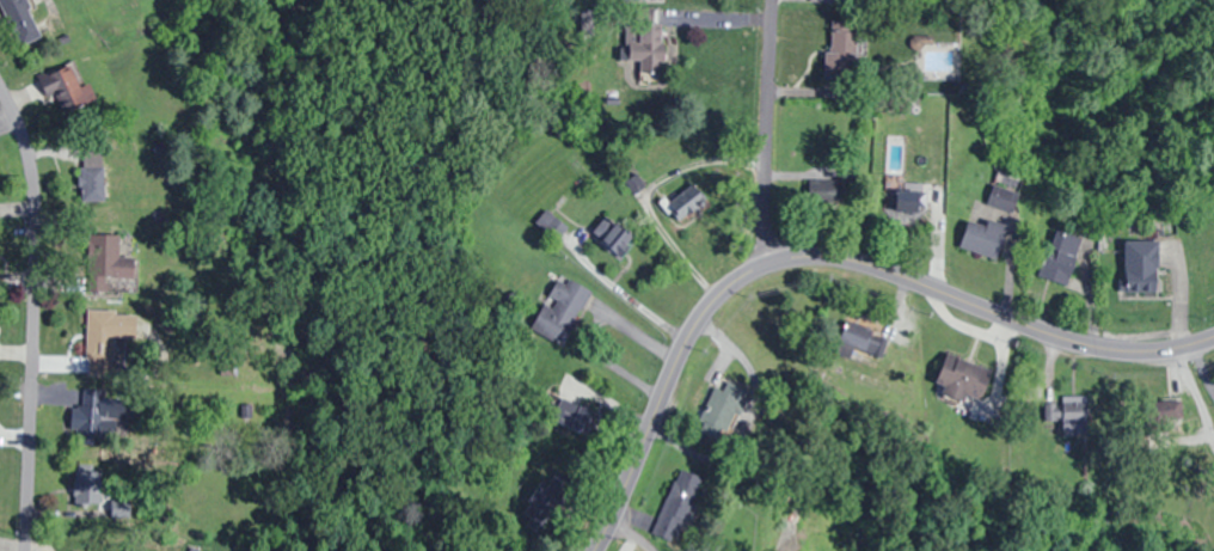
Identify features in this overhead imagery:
building: (20, 22)
building: (840, 55)
building: (938, 57)
building: (65, 90)
road: (766, 133)
building: (92, 180)
building: (824, 192)
building: (687, 202)
building: (915, 203)
building: (551, 225)
building: (983, 237)
building: (1060, 257)
road: (827, 258)
building: (1142, 267)
building: (111, 273)
building: (562, 307)
road: (32, 318)
building: (865, 339)
building: (99, 342)
building: (964, 374)
building: (723, 409)
building: (609, 410)
building: (1074, 412)
building: (106, 416)
building: (86, 486)
building: (676, 504)
building: (540, 507)
road: (631, 533)

